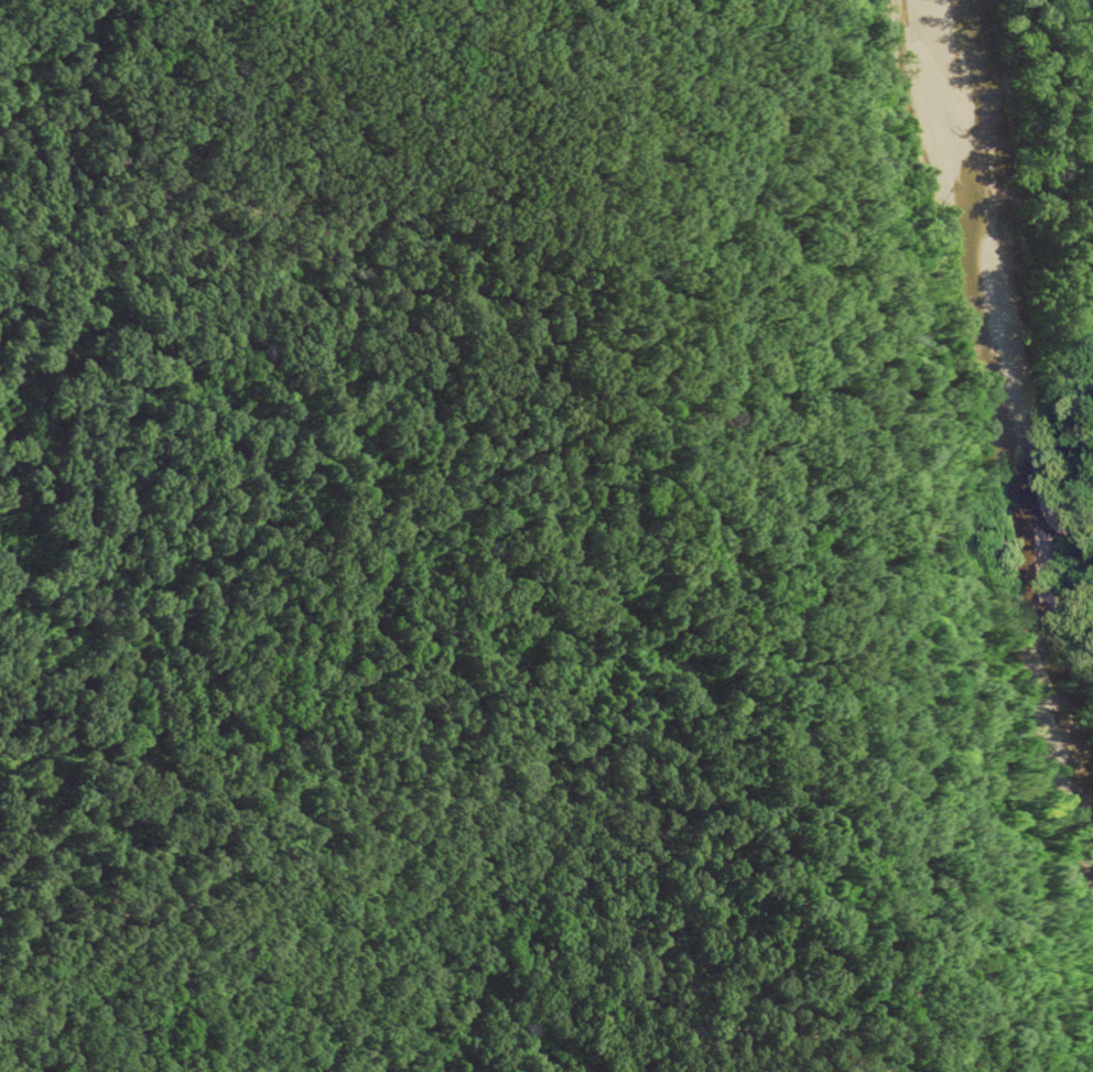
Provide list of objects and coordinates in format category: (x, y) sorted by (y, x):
river: (988, 436)

